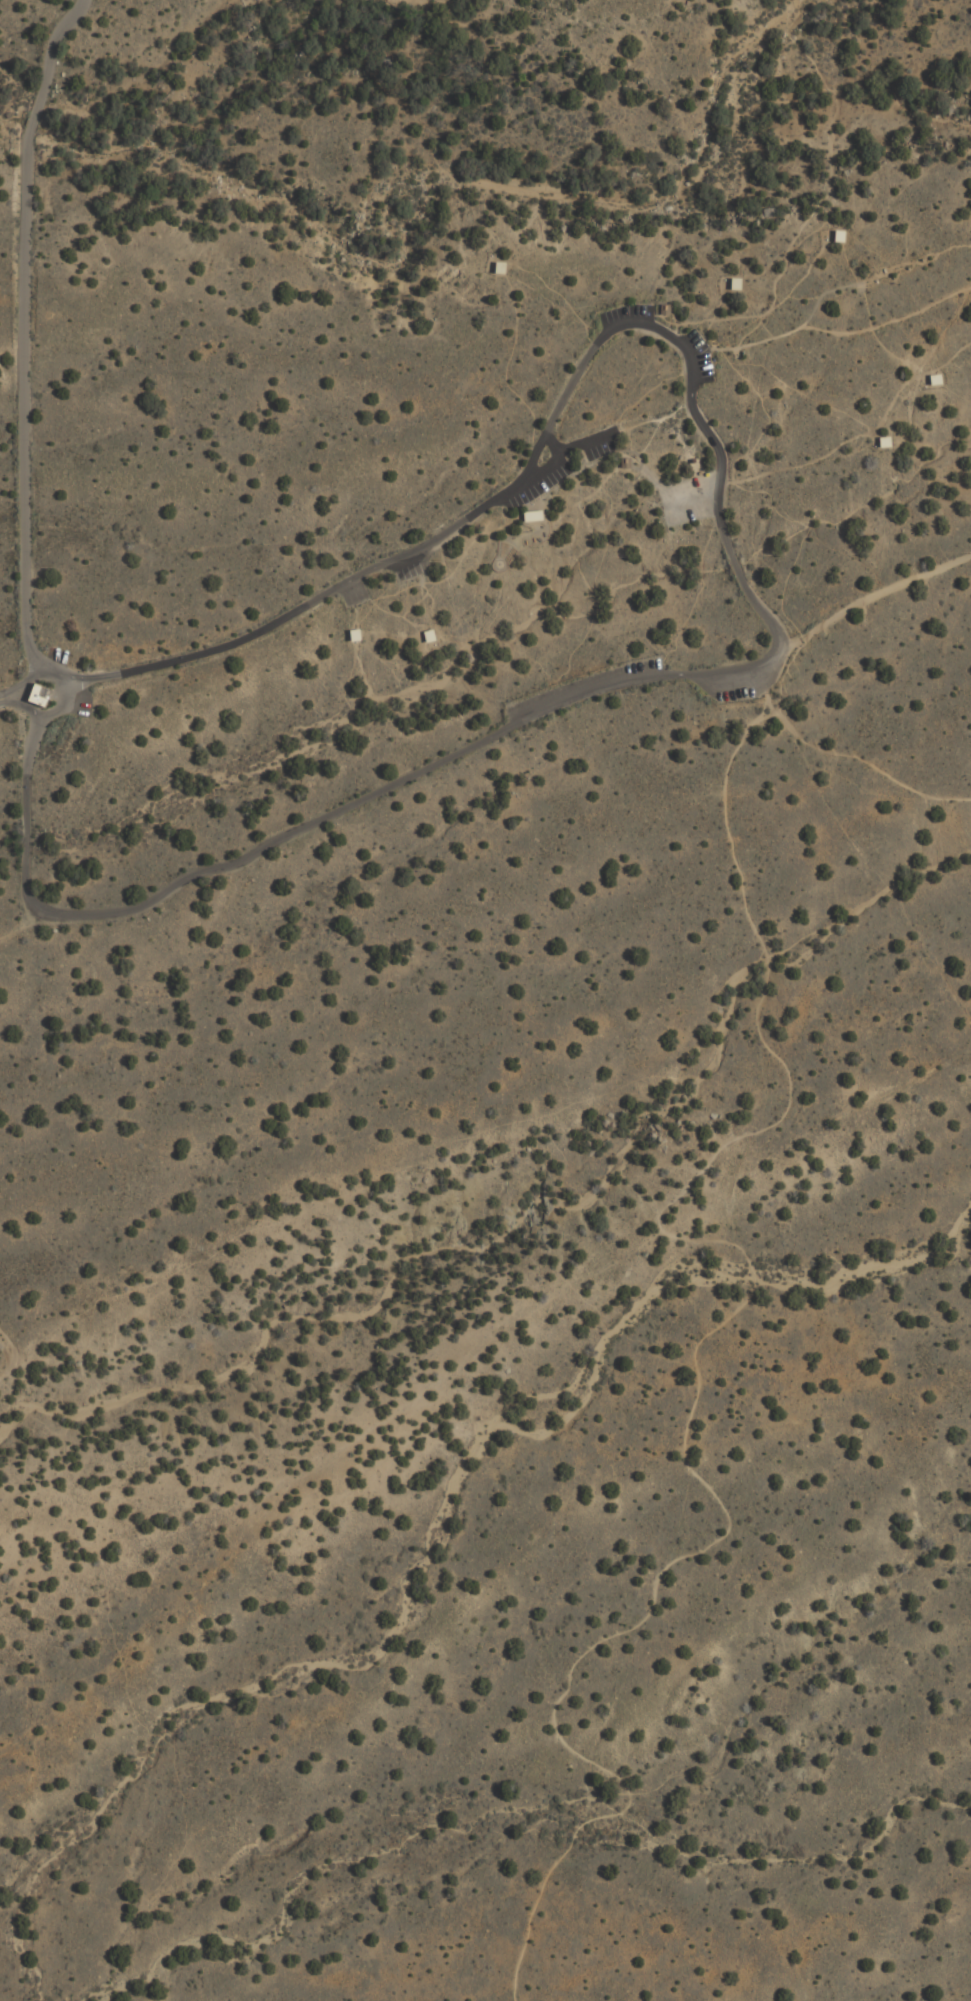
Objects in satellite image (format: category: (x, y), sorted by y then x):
road: (812, 215)
building: (668, 310)
parking lot: (624, 313)
road: (24, 329)
road: (831, 333)
parking lot: (696, 356)
road: (584, 442)
road: (543, 470)
parking lot: (554, 472)
parking lot: (687, 499)
parking lot: (410, 567)
parking lot: (353, 594)
road: (751, 597)
road: (871, 598)
parking lot: (57, 654)
parking lot: (584, 684)
parking lot: (735, 692)
building: (38, 697)
road: (1, 698)
road: (64, 703)
parking lot: (82, 703)
toll booth: (33, 704)
road: (845, 752)
park: (492, 996)
road: (8, 1353)
road: (698, 1354)

